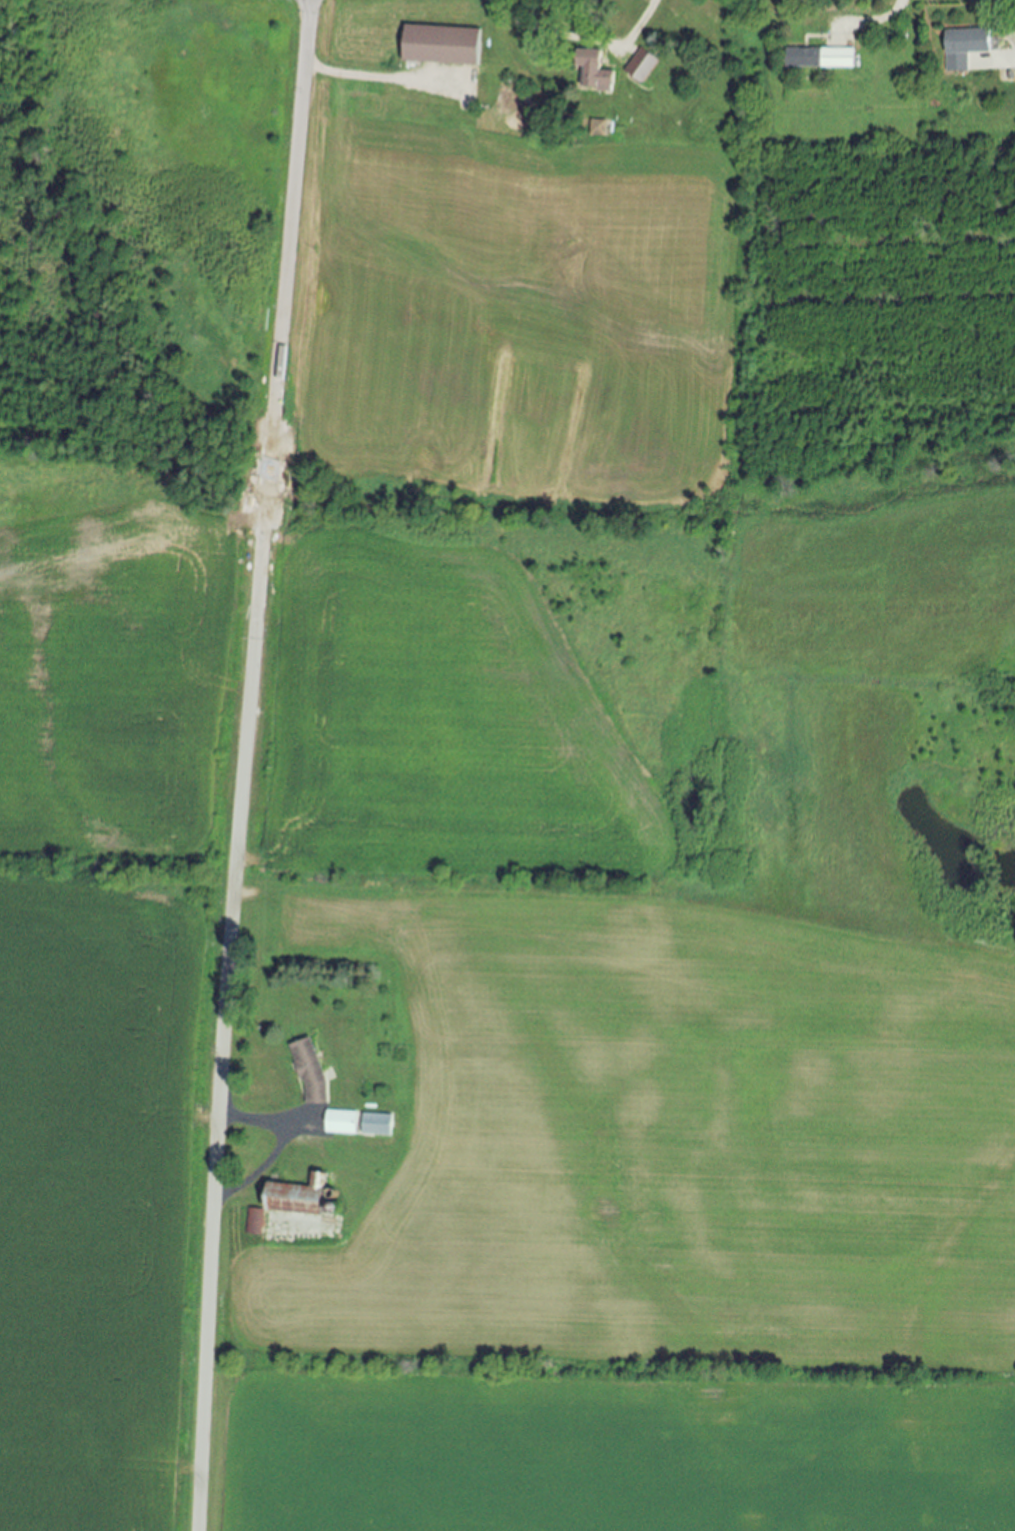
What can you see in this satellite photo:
road: (641, 22)
road: (878, 22)
building: (450, 36)
building: (963, 43)
building: (818, 59)
building: (638, 66)
building: (592, 72)
building: (392, 80)
building: (602, 129)
road: (246, 764)
building: (308, 1074)
building: (340, 1125)
building: (375, 1126)
road: (279, 1146)
building: (292, 1200)

